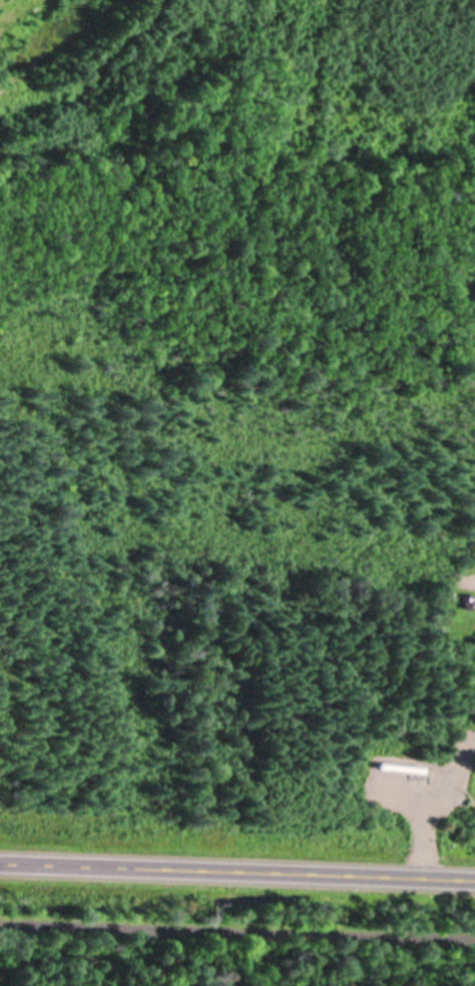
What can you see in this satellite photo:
park: (459, 576)
building: (469, 600)
road: (237, 869)
road: (237, 930)
park: (213, 972)

